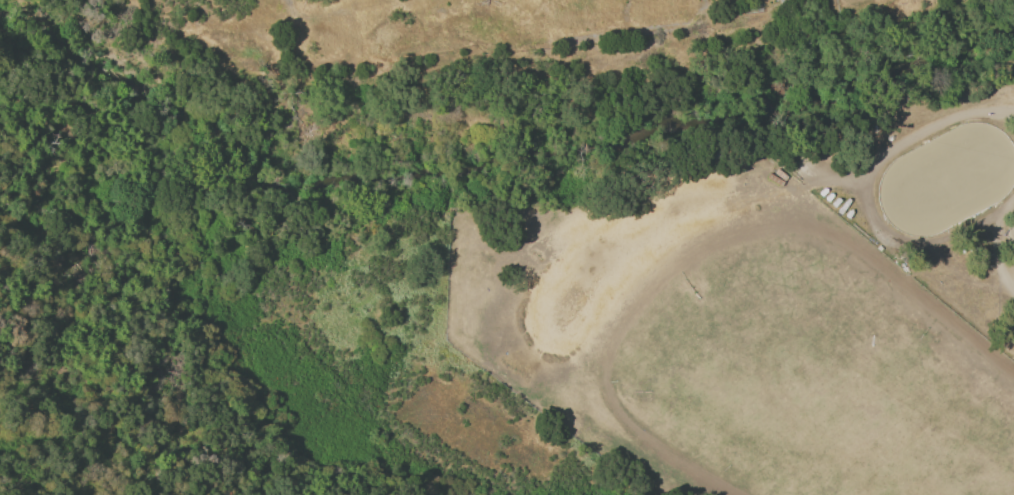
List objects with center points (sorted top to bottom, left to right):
building: (789, 3)
road: (906, 138)
park: (945, 179)
park: (1009, 232)
building: (981, 242)
park: (1009, 324)

